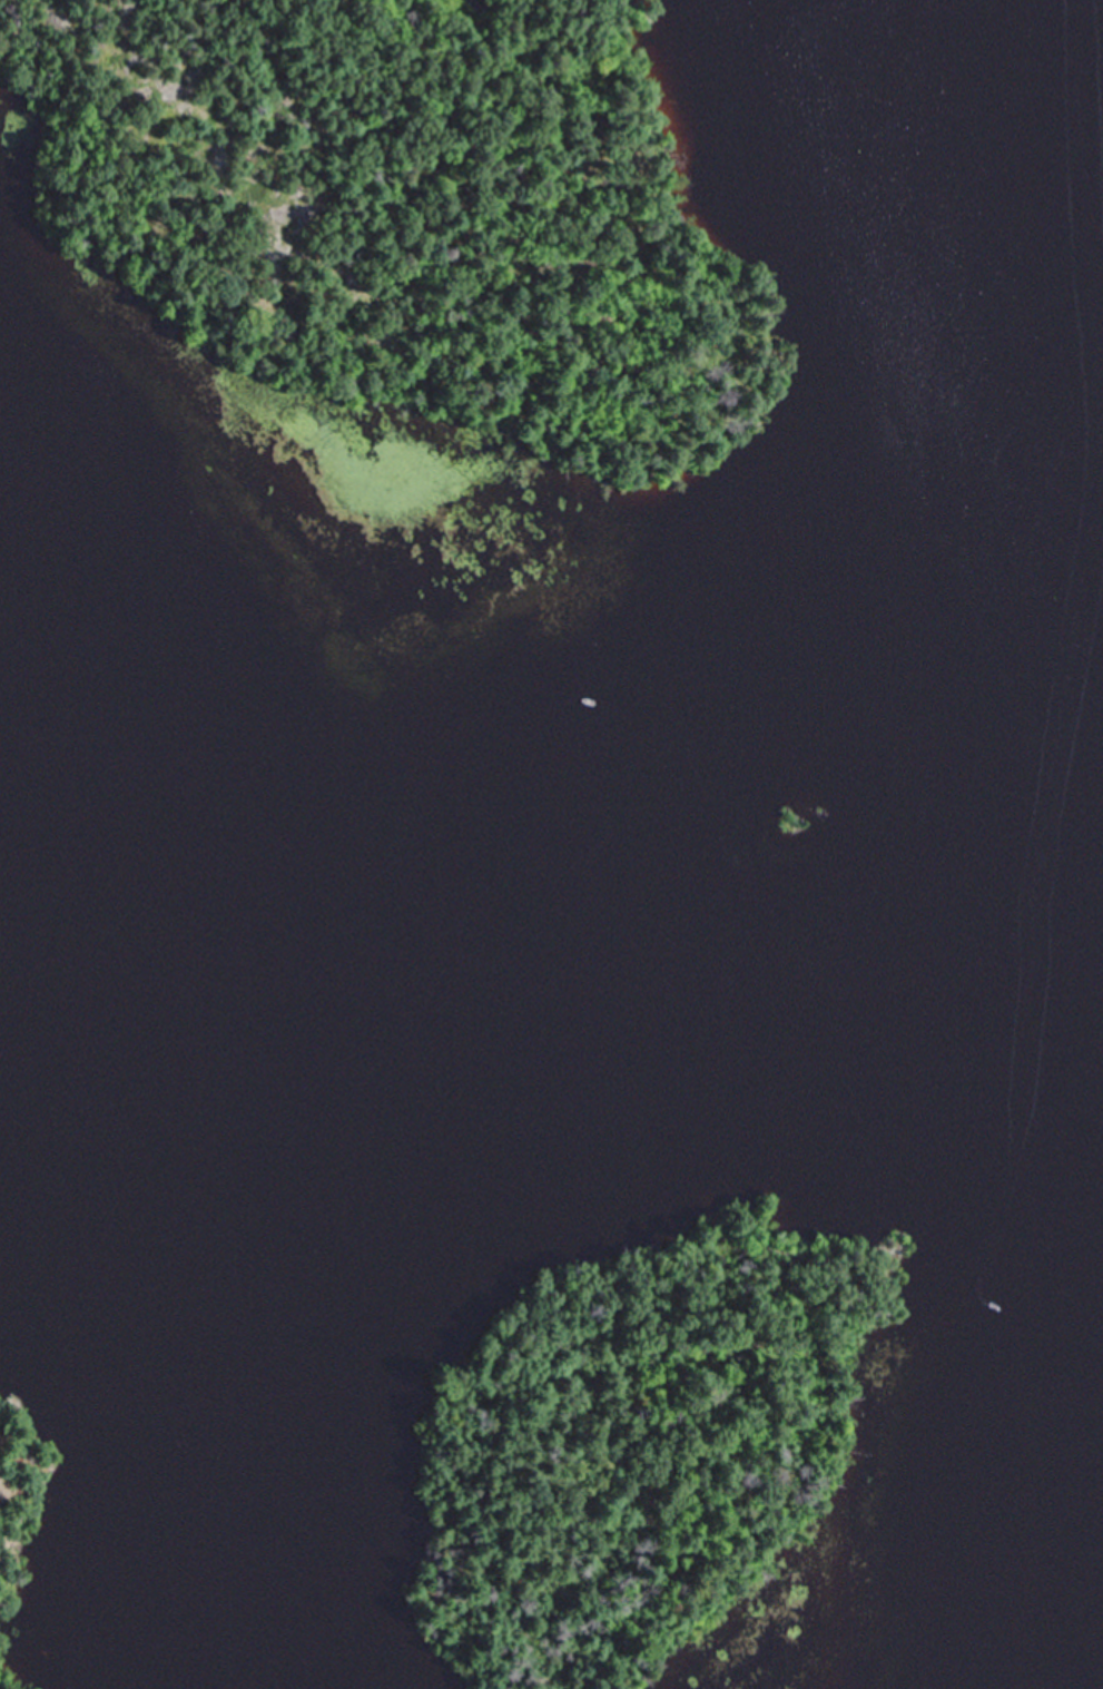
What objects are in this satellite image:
river: (1022, 318)

